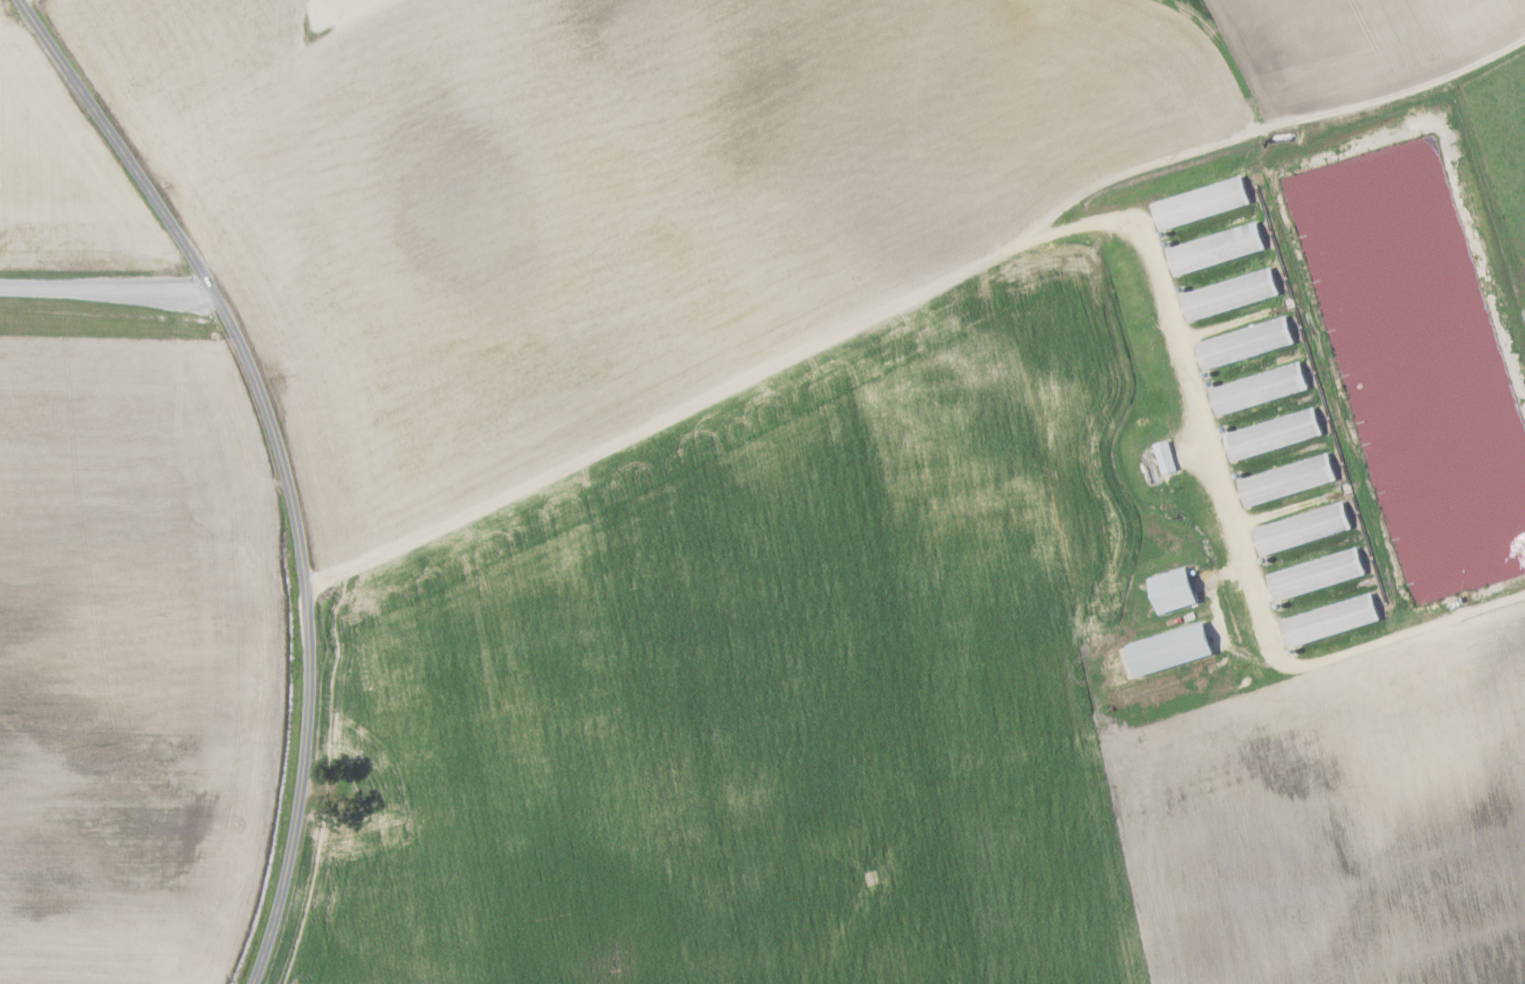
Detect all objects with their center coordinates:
road: (20, 0)
building: (1203, 203)
building: (1217, 249)
building: (1231, 294)
building: (1246, 343)
building: (1261, 389)
building: (1275, 434)
building: (1166, 457)
road: (290, 461)
building: (1289, 480)
building: (1303, 529)
building: (1318, 575)
building: (1175, 591)
building: (1332, 620)
building: (1172, 650)

